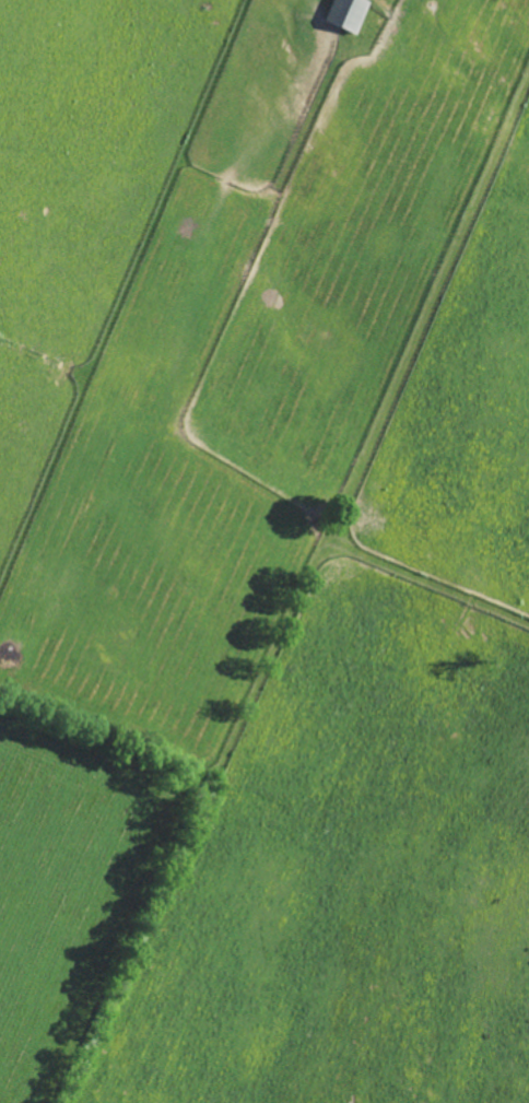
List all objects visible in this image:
building: (344, 14)

